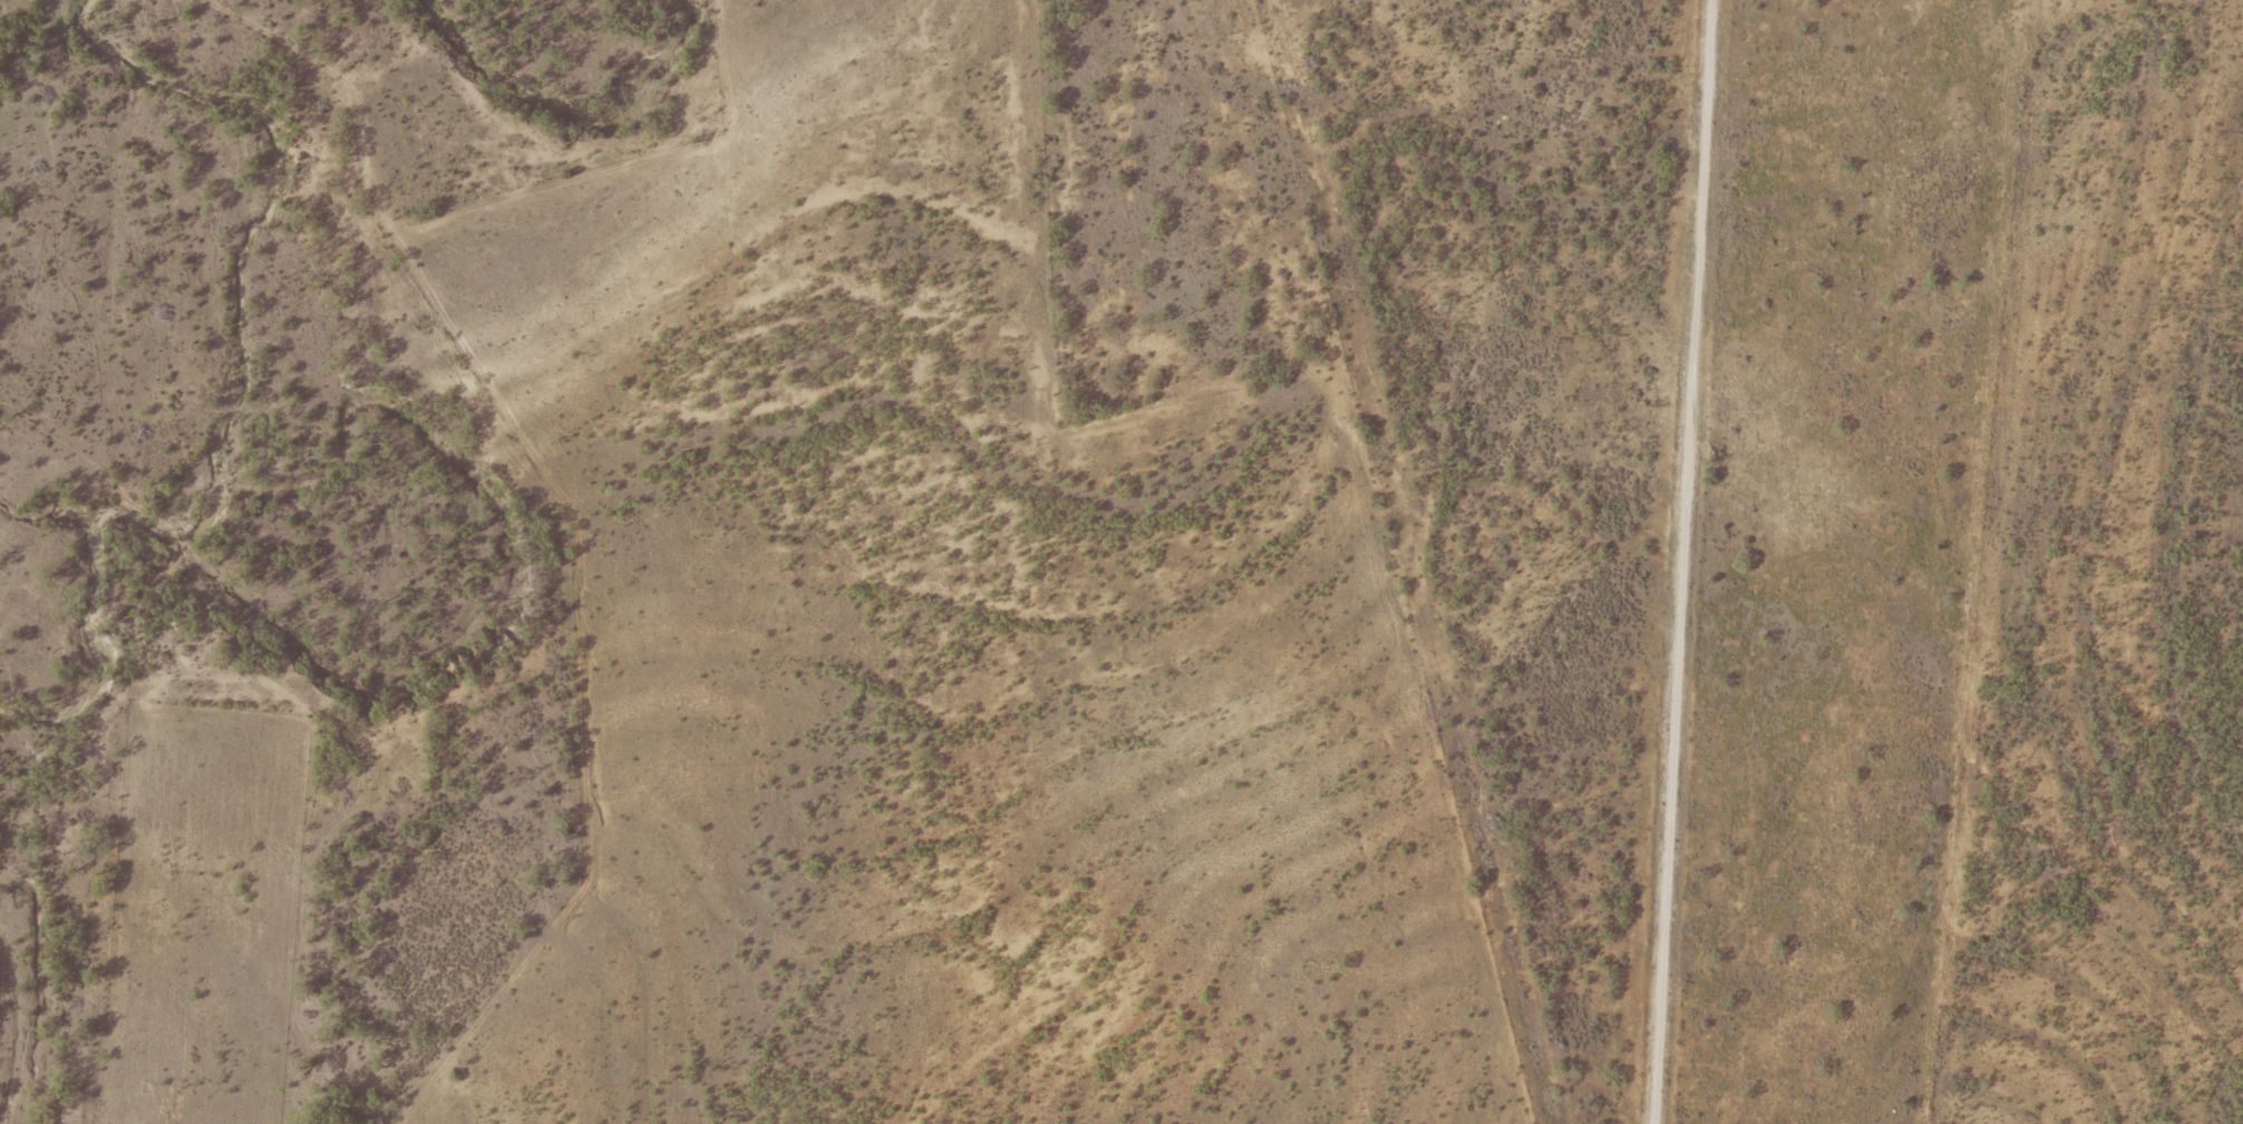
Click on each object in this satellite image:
road: (1649, 560)

